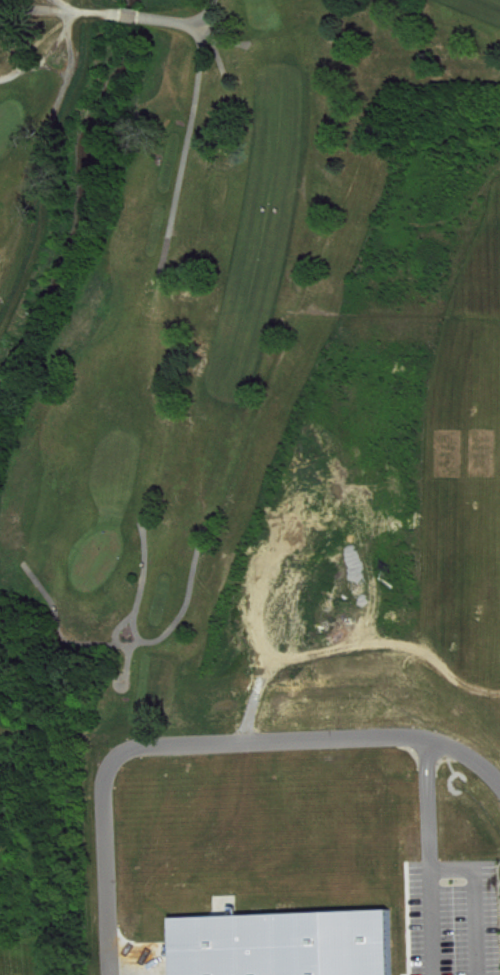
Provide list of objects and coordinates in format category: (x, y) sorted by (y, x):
park: (259, 2)
park: (12, 131)
park: (170, 271)
park: (101, 567)
road: (208, 751)
road: (433, 861)
road: (475, 903)
building: (290, 948)
park: (27, 959)

